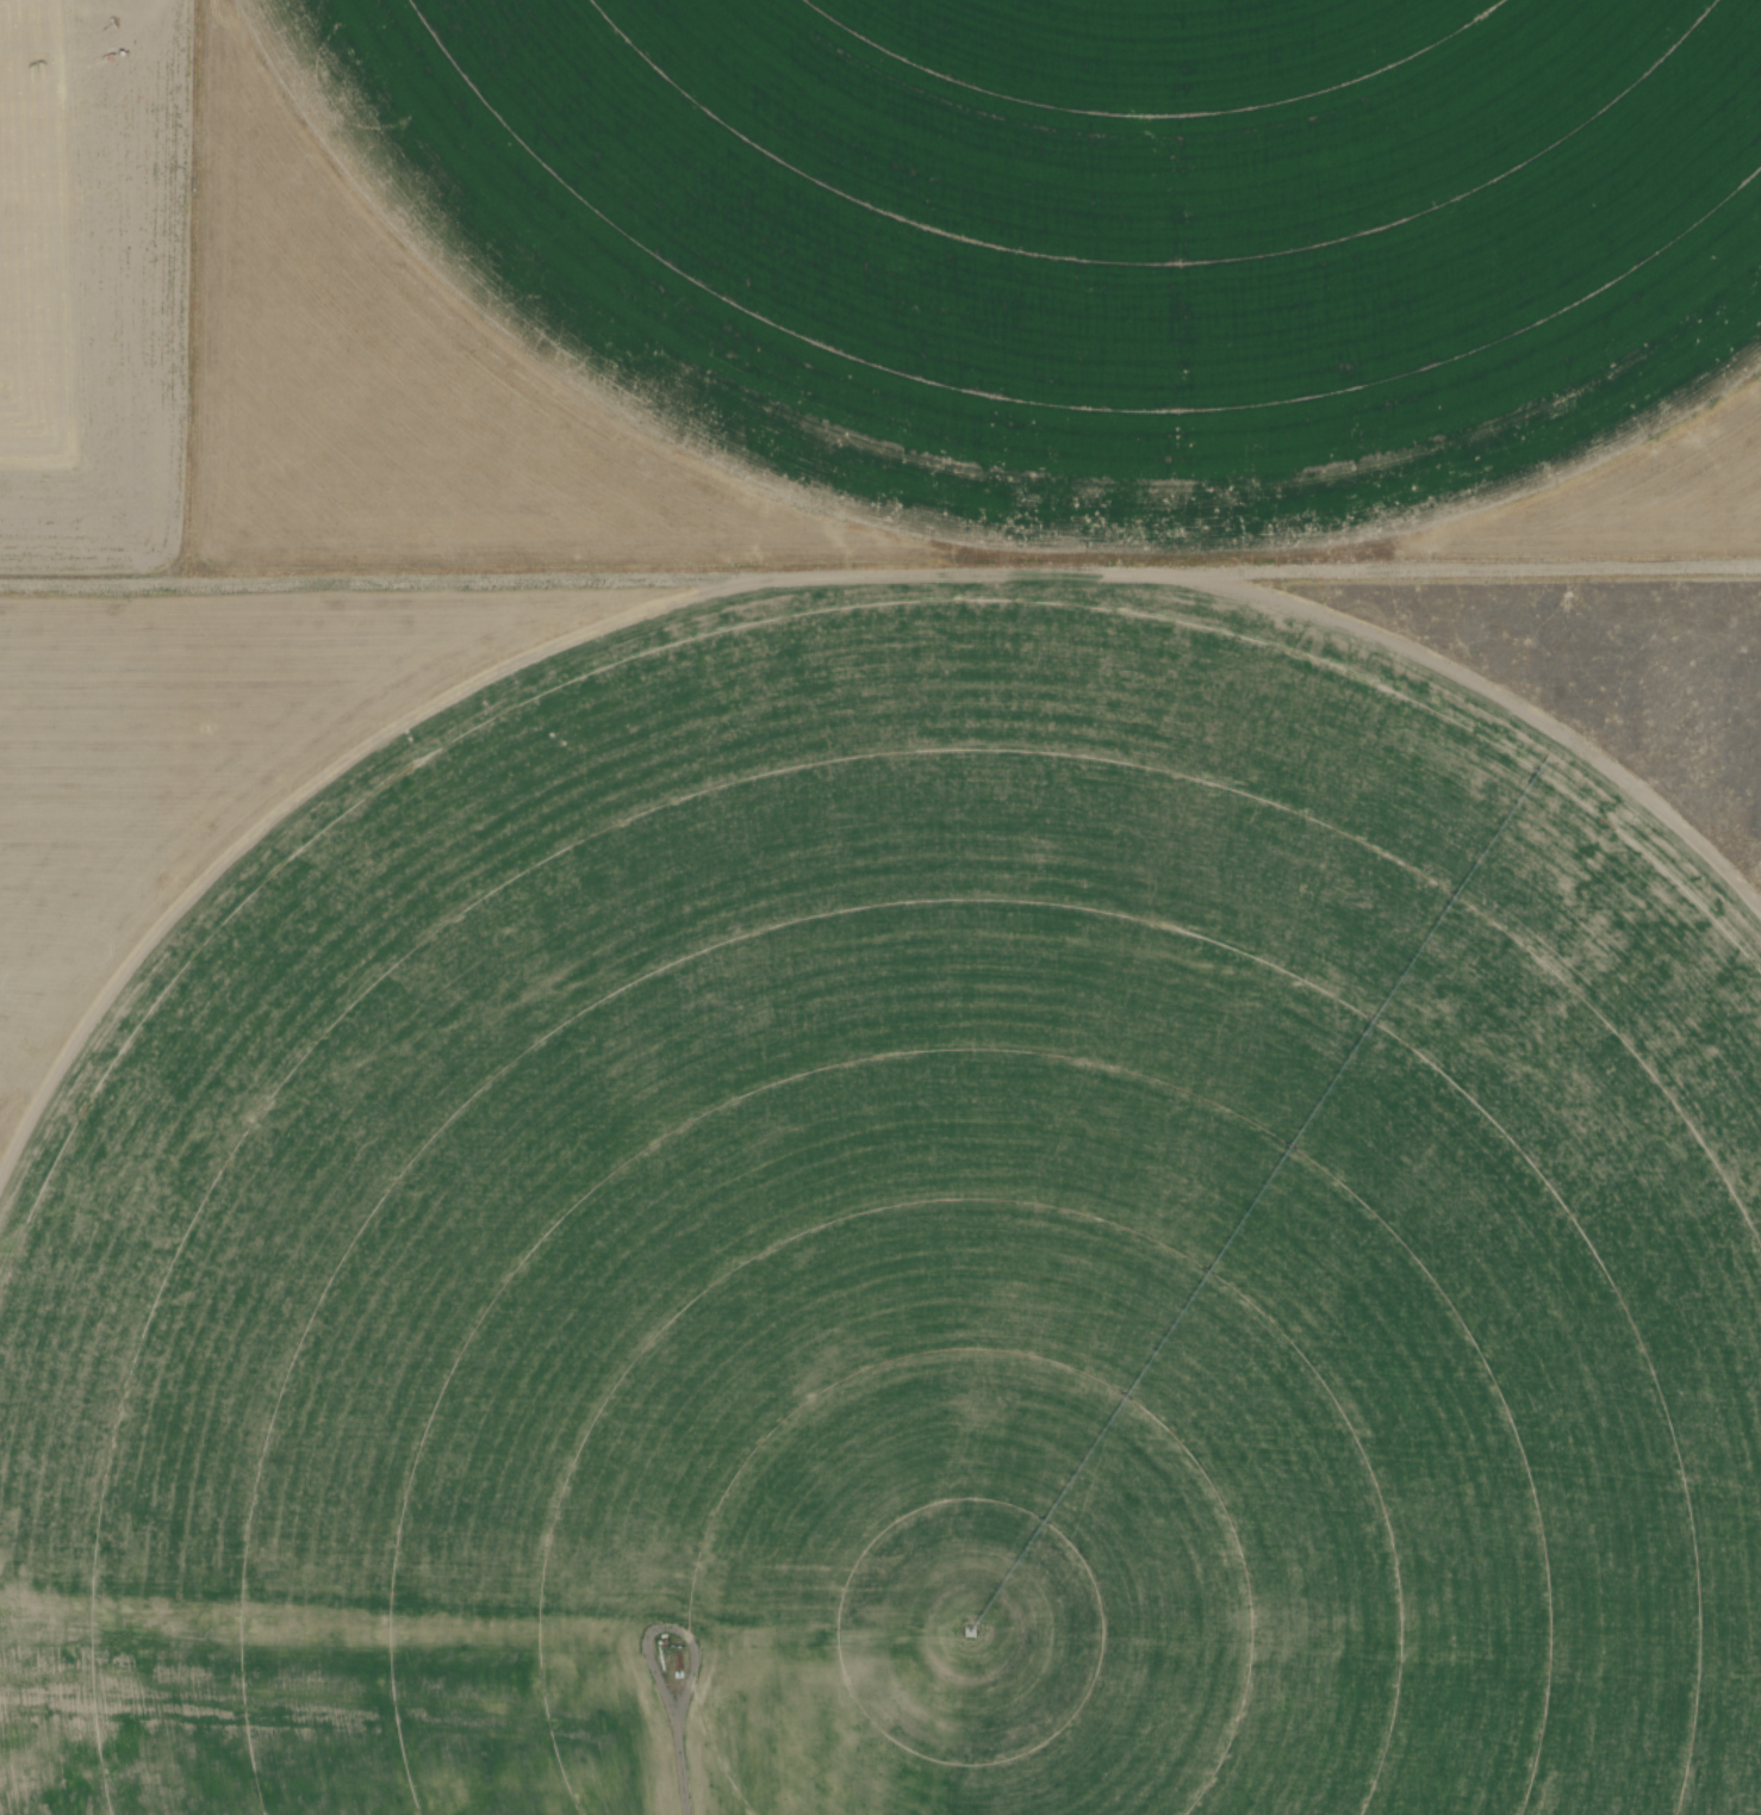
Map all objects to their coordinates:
road: (671, 1741)

